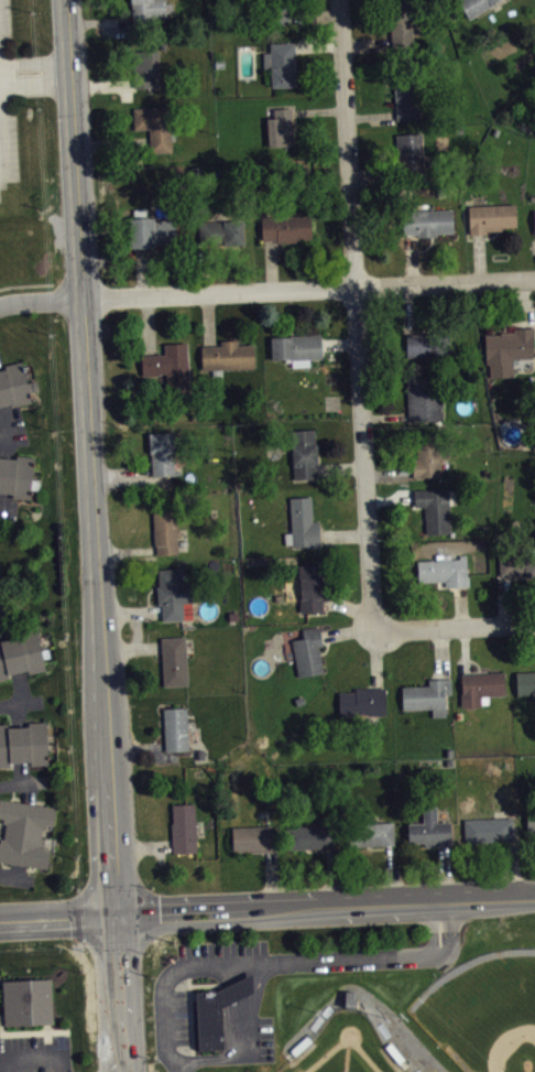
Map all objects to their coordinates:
building: (474, 7)
building: (279, 12)
building: (148, 14)
road: (316, 14)
road: (99, 20)
building: (401, 26)
road: (318, 45)
road: (367, 45)
building: (281, 63)
building: (145, 67)
road: (35, 74)
road: (102, 83)
building: (405, 97)
parking lot: (7, 101)
road: (318, 109)
road: (370, 115)
building: (154, 126)
building: (280, 127)
road: (112, 143)
building: (410, 153)
road: (373, 170)
building: (491, 216)
building: (534, 219)
building: (426, 220)
building: (286, 227)
building: (152, 231)
building: (220, 232)
road: (479, 257)
road: (412, 258)
road: (271, 264)
road: (203, 268)
road: (142, 270)
road: (25, 283)
road: (309, 288)
road: (42, 297)
road: (523, 302)
road: (407, 307)
road: (356, 315)
road: (208, 317)
road: (148, 323)
building: (427, 342)
road: (339, 343)
building: (296, 344)
building: (506, 348)
building: (227, 353)
building: (170, 365)
building: (15, 383)
building: (423, 397)
road: (385, 415)
road: (2, 429)
road: (12, 434)
building: (162, 452)
building: (304, 452)
building: (426, 454)
road: (341, 467)
road: (122, 470)
road: (389, 472)
building: (17, 474)
road: (390, 497)
road: (1, 499)
building: (434, 507)
road: (7, 509)
building: (303, 520)
building: (165, 530)
road: (343, 534)
road: (96, 535)
road: (127, 549)
building: (516, 562)
building: (444, 570)
building: (310, 585)
building: (172, 592)
road: (506, 598)
road: (459, 605)
road: (9, 607)
road: (352, 607)
road: (130, 610)
road: (8, 622)
road: (454, 626)
road: (134, 628)
road: (347, 629)
road: (131, 646)
road: (463, 649)
building: (307, 650)
road: (440, 651)
building: (21, 652)
road: (376, 657)
building: (174, 659)
building: (525, 681)
road: (20, 685)
building: (480, 685)
building: (426, 694)
building: (362, 701)
road: (20, 702)
road: (17, 714)
building: (175, 726)
building: (23, 743)
road: (135, 746)
road: (24, 781)
road: (22, 783)
building: (529, 817)
building: (183, 827)
building: (428, 827)
building: (488, 827)
building: (24, 831)
building: (369, 831)
building: (309, 834)
building: (251, 836)
building: (383, 840)
road: (141, 845)
road: (509, 869)
road: (17, 870)
road: (387, 873)
road: (444, 873)
road: (331, 876)
road: (15, 879)
road: (267, 879)
road: (267, 909)
traffic signals: (114, 913)
road: (279, 962)
building: (349, 996)
building: (26, 1000)
park: (485, 1009)
building: (215, 1010)
road: (242, 1035)
park: (345, 1047)
parking lot: (34, 1052)
road: (33, 1055)

